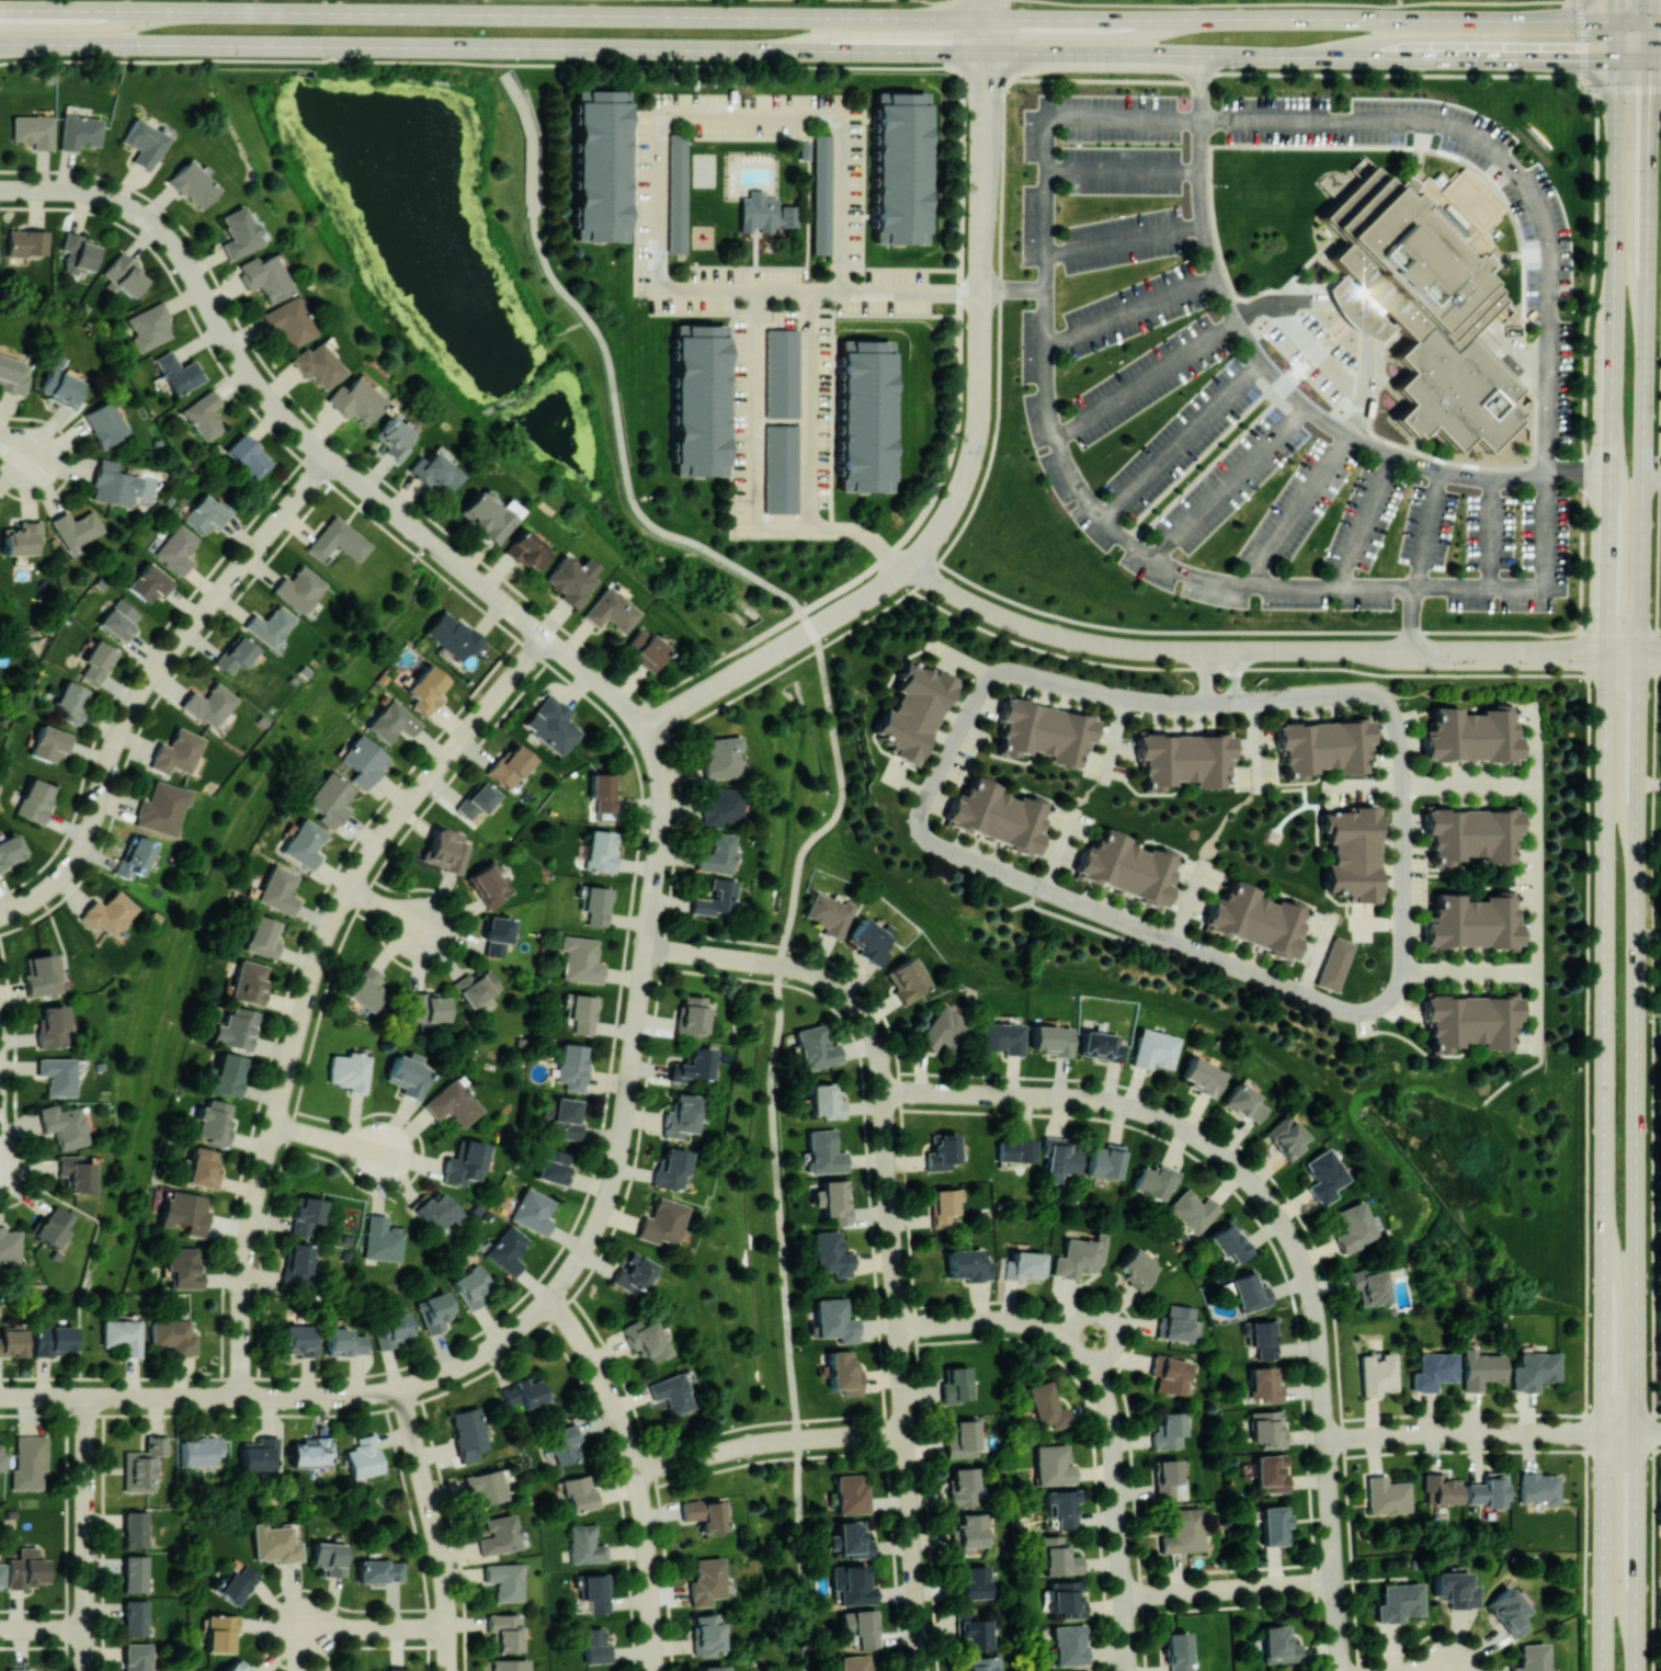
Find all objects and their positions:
road: (934, 1)
road: (1300, 2)
road: (492, 13)
road: (985, 16)
road: (1300, 16)
road: (1632, 20)
road: (1654, 20)
road: (1649, 30)
road: (492, 47)
road: (986, 52)
road: (1300, 55)
traffic signals: (1570, 59)
road: (1632, 59)
road: (1656, 59)
road: (833, 67)
road: (985, 77)
traffic signals: (1650, 101)
road: (1201, 121)
building: (33, 130)
building: (79, 132)
building: (144, 143)
building: (804, 149)
building: (599, 164)
building: (900, 167)
park: (703, 169)
road: (1125, 173)
road: (657, 183)
road: (960, 183)
building: (192, 184)
road: (863, 189)
building: (676, 192)
building: (821, 193)
building: (758, 212)
building: (790, 216)
building: (241, 231)
road: (1127, 241)
building: (26, 242)
building: (79, 253)
road: (910, 269)
building: (124, 275)
building: (264, 276)
road: (1014, 293)
building: (1427, 296)
road: (959, 304)
road: (1358, 309)
road: (1133, 312)
road: (832, 319)
building: (288, 320)
road: (1612, 325)
building: (150, 327)
road: (221, 329)
road: (981, 333)
road: (1584, 350)
road: (1319, 354)
building: (318, 365)
road: (1299, 370)
building: (179, 372)
building: (782, 373)
building: (13, 375)
road: (1146, 382)
road: (1282, 387)
building: (60, 388)
building: (355, 399)
building: (697, 399)
parking lot: (1228, 407)
building: (204, 414)
building: (865, 416)
building: (104, 423)
building: (394, 437)
road: (1185, 443)
road: (15, 447)
building: (248, 456)
building: (781, 468)
building: (434, 471)
road: (1651, 480)
building: (112, 484)
road: (1229, 487)
building: (207, 512)
building: (490, 514)
road: (1299, 514)
road: (914, 522)
road: (1366, 526)
road: (777, 527)
building: (75, 528)
road: (862, 532)
road: (423, 536)
building: (21, 537)
road: (683, 537)
road: (1492, 537)
building: (338, 539)
road: (428, 539)
road: (446, 555)
road: (1421, 560)
road: (900, 572)
building: (571, 579)
building: (149, 582)
building: (298, 588)
road: (867, 596)
road: (216, 598)
building: (610, 610)
building: (120, 621)
building: (269, 625)
road: (556, 646)
road: (785, 646)
building: (646, 649)
road: (1233, 650)
road: (1580, 650)
road: (1604, 650)
road: (1642, 650)
building: (234, 653)
building: (98, 660)
road: (959, 660)
road: (1235, 675)
road: (1205, 677)
building: (426, 689)
building: (70, 702)
building: (208, 704)
road: (685, 704)
building: (912, 712)
building: (391, 721)
building: (553, 725)
building: (1043, 731)
road: (1116, 734)
building: (1472, 734)
road: (1256, 740)
building: (50, 743)
road: (1537, 744)
building: (1322, 746)
building: (175, 752)
road: (112, 754)
building: (721, 757)
building: (1183, 759)
building: (363, 760)
building: (510, 765)
road: (1649, 782)
road: (1368, 785)
building: (603, 791)
building: (330, 798)
building: (34, 799)
building: (476, 799)
building: (161, 808)
building: (997, 815)
building: (1470, 833)
building: (304, 843)
building: (10, 850)
building: (445, 850)
building: (600, 850)
building: (1352, 852)
building: (717, 854)
road: (77, 856)
building: (133, 857)
road: (1638, 864)
building: (1127, 866)
road: (635, 873)
road: (656, 877)
road: (1537, 878)
building: (487, 884)
building: (278, 890)
building: (716, 898)
building: (596, 905)
road: (384, 907)
building: (107, 912)
building: (827, 913)
building: (1255, 918)
building: (1472, 921)
building: (497, 935)
building: (262, 936)
building: (869, 941)
road: (1192, 948)
road: (698, 954)
building: (581, 959)
road: (767, 963)
building: (1336, 963)
building: (42, 975)
building: (907, 979)
building: (249, 982)
road: (311, 984)
building: (477, 986)
building: (366, 988)
building: (428, 1009)
road: (1536, 1010)
building: (583, 1012)
building: (691, 1014)
building: (1470, 1021)
building: (52, 1026)
building: (235, 1028)
building: (943, 1030)
building: (1002, 1037)
road: (635, 1038)
building: (1050, 1039)
building: (1100, 1046)
building: (815, 1047)
building: (1152, 1049)
road: (1654, 1053)
building: (692, 1065)
building: (571, 1066)
building: (350, 1070)
building: (228, 1073)
building: (409, 1073)
building: (57, 1075)
building: (1202, 1076)
road: (980, 1094)
road: (1084, 1099)
building: (824, 1100)
building: (1244, 1102)
building: (452, 1103)
building: (680, 1115)
building: (567, 1116)
building: (213, 1122)
building: (64, 1125)
building: (1285, 1136)
road: (329, 1140)
building: (1015, 1150)
road: (1585, 1150)
building: (823, 1151)
building: (942, 1151)
building: (1059, 1158)
building: (1105, 1160)
road: (1604, 1160)
building: (464, 1162)
building: (554, 1166)
building: (202, 1168)
building: (670, 1168)
building: (76, 1173)
building: (1323, 1175)
building: (1156, 1180)
building: (833, 1200)
building: (945, 1205)
building: (434, 1210)
building: (533, 1210)
building: (1193, 1210)
building: (184, 1212)
building: (307, 1217)
road: (1281, 1217)
building: (662, 1221)
building: (1353, 1226)
building: (49, 1227)
building: (383, 1239)
building: (1229, 1241)
building: (9, 1248)
building: (507, 1250)
building: (831, 1253)
building: (1079, 1257)
road: (87, 1261)
building: (296, 1262)
building: (968, 1264)
building: (1021, 1265)
building: (182, 1268)
building: (1136, 1268)
building: (633, 1272)
building: (1368, 1285)
building: (470, 1286)
road: (559, 1287)
road: (898, 1292)
building: (1249, 1292)
building: (434, 1311)
road: (786, 1317)
road: (1112, 1319)
building: (834, 1320)
road: (1016, 1320)
building: (1176, 1322)
road: (951, 1323)
building: (390, 1330)
building: (123, 1334)
building: (173, 1335)
building: (1263, 1338)
building: (298, 1339)
building: (644, 1339)
building: (12, 1340)
building: (53, 1340)
building: (343, 1341)
building: (1480, 1367)
building: (1433, 1369)
building: (1534, 1371)
building: (843, 1372)
building: (1169, 1374)
building: (1377, 1374)
building: (1264, 1383)
building: (955, 1384)
building: (522, 1392)
building: (672, 1392)
road: (38, 1397)
road: (88, 1397)
road: (211, 1397)
road: (330, 1397)
building: (1046, 1406)
building: (1266, 1428)
building: (1168, 1431)
road: (1464, 1432)
road: (1632, 1432)
building: (468, 1433)
building: (962, 1437)
road: (771, 1442)
building: (567, 1443)
building: (201, 1451)
building: (311, 1452)
building: (261, 1453)
building: (363, 1456)
building: (0, 1457)
building: (29, 1462)
building: (144, 1464)
building: (1053, 1465)
building: (1271, 1471)
road: (637, 1474)
building: (1167, 1477)
road: (1117, 1478)
building: (486, 1486)
building: (964, 1487)
building: (1539, 1488)
building: (1441, 1489)
building: (1487, 1490)
building: (580, 1492)
building: (851, 1494)
building: (1387, 1494)
road: (1329, 1497)
building: (1061, 1505)
building: (704, 1514)
building: (1273, 1524)
building: (136, 1528)
road: (434, 1528)
building: (1183, 1531)
building: (968, 1532)
road: (87, 1534)
building: (499, 1534)
building: (851, 1538)
building: (275, 1544)
building: (585, 1545)
building: (329, 1557)
building: (1058, 1557)
building: (25, 1569)
building: (379, 1570)
building: (136, 1572)
building: (0, 1573)
building: (504, 1580)
building: (706, 1581)
building: (975, 1581)
building: (238, 1583)
building: (852, 1583)
road: (1230, 1589)
building: (1455, 1589)
building: (595, 1591)
building: (1066, 1598)
building: (1399, 1602)
road: (1336, 1612)
building: (1508, 1612)
building: (136, 1617)
building: (861, 1626)
road: (43, 1628)
road: (376, 1629)
building: (504, 1630)
building: (974, 1630)
building: (221, 1633)
building: (707, 1634)
building: (1069, 1644)
building: (1278, 1644)
building: (595, 1646)
building: (1178, 1651)
building: (137, 1656)
building: (1531, 1657)
building: (854, 1662)
building: (983, 1663)
building: (509, 1664)
building: (236, 1666)
building: (712, 1668)
building: (19, 1669)
building: (390, 1670)
road: (1441, 1670)

